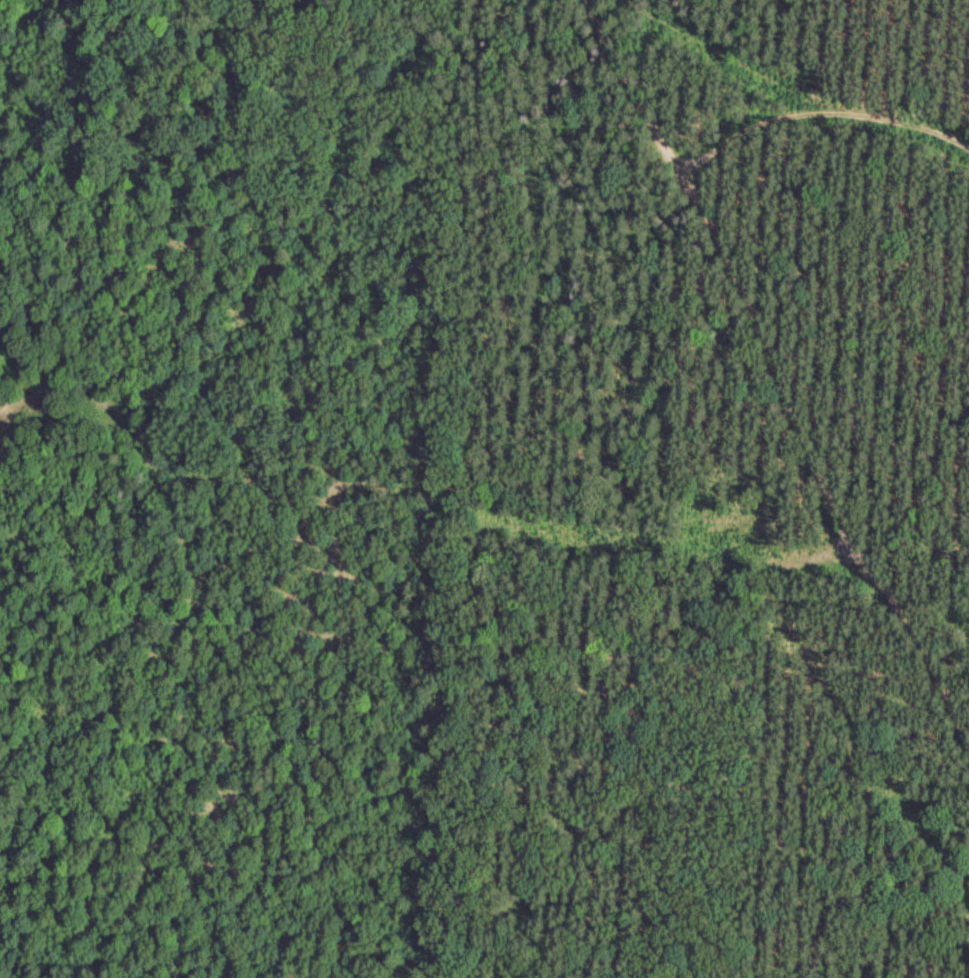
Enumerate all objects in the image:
road: (804, 344)

